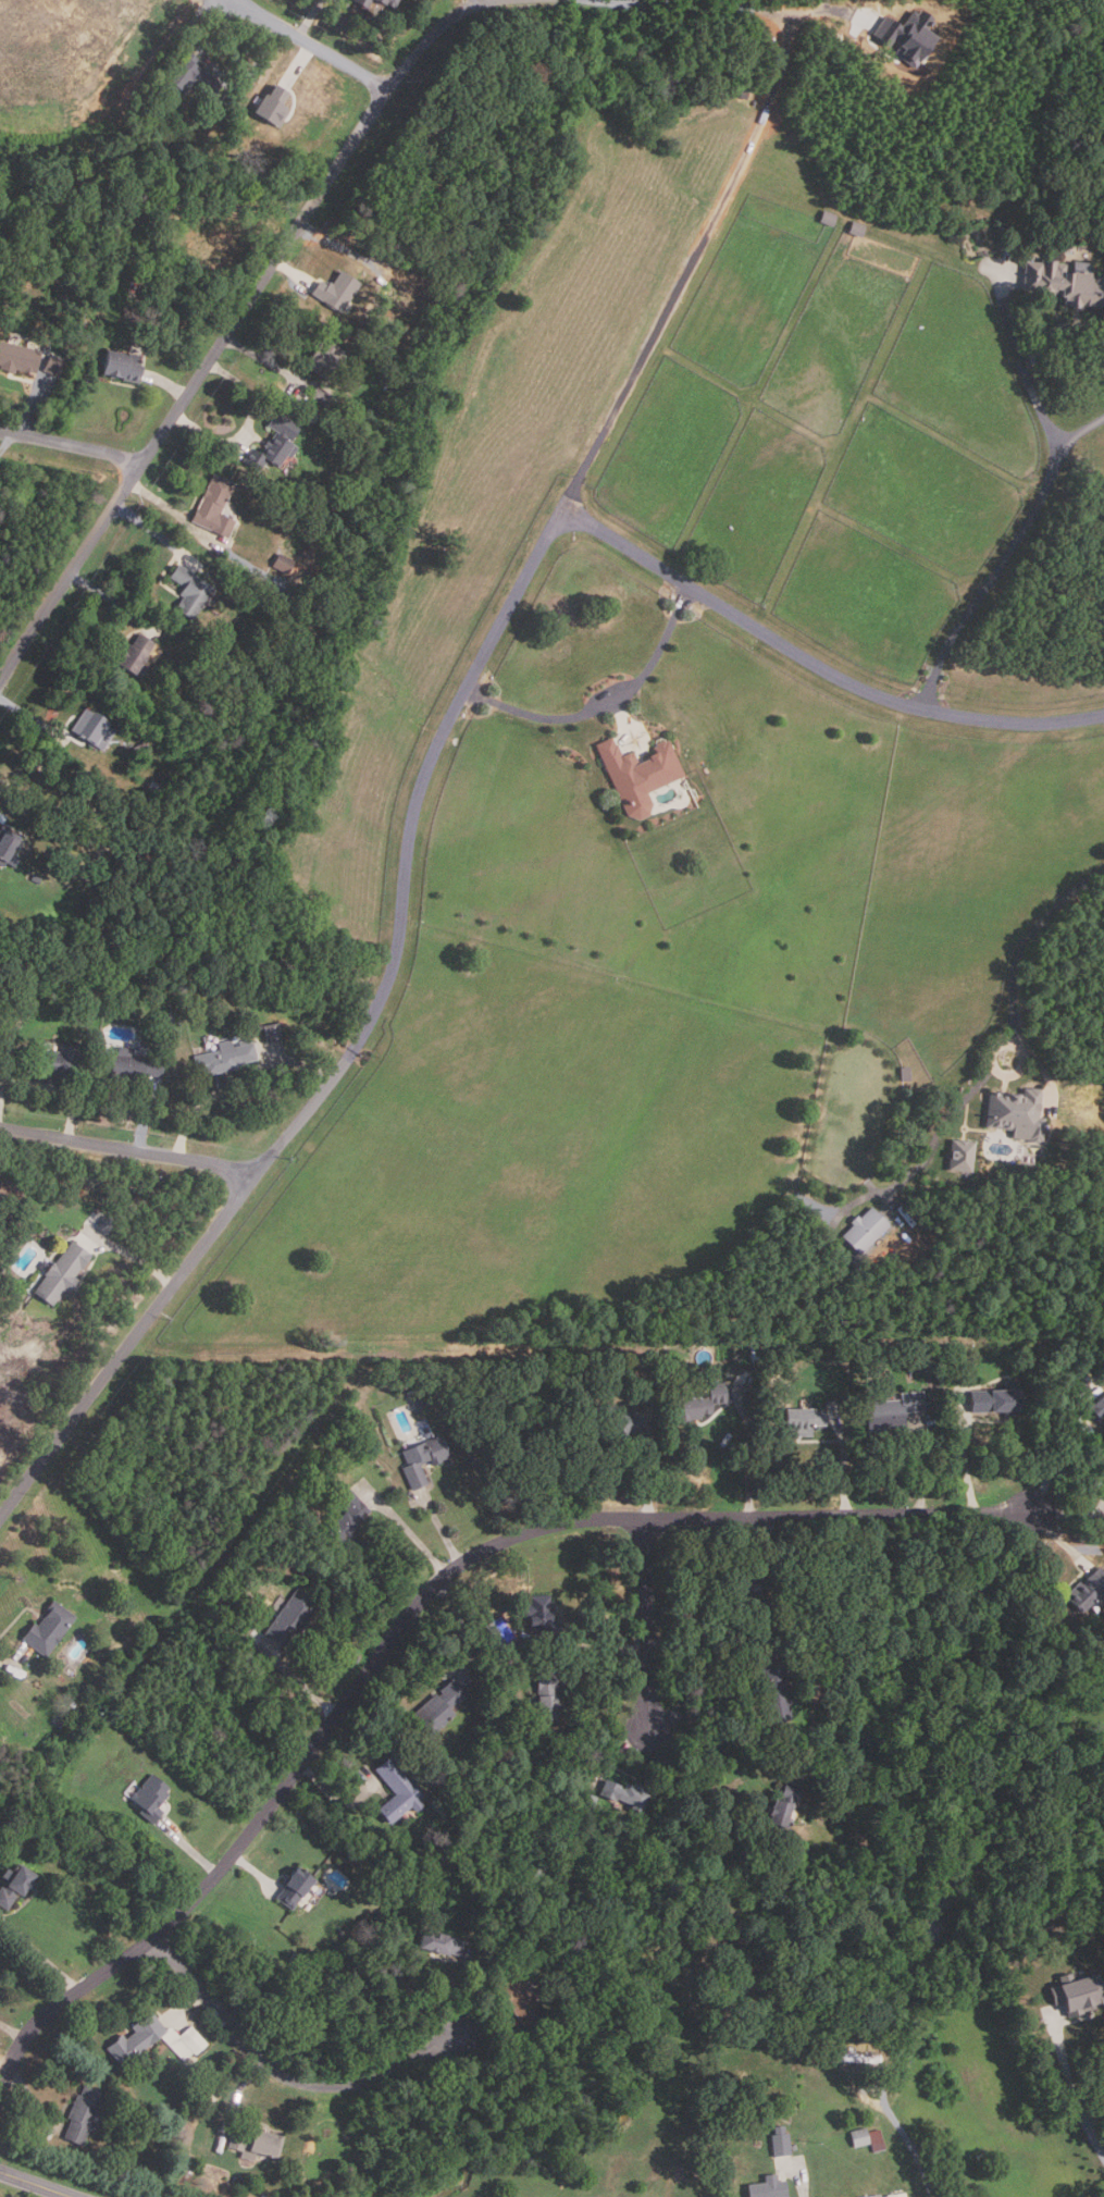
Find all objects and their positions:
building: (360, 3)
building: (386, 3)
road: (476, 4)
road: (312, 17)
road: (191, 37)
building: (911, 38)
road: (314, 46)
road: (299, 62)
building: (186, 75)
building: (273, 104)
building: (826, 217)
building: (855, 227)
road: (692, 266)
road: (294, 272)
building: (1064, 281)
building: (146, 293)
building: (338, 293)
road: (249, 305)
road: (1058, 329)
building: (20, 356)
building: (323, 357)
road: (263, 358)
road: (1022, 363)
building: (55, 365)
building: (120, 365)
building: (388, 380)
road: (170, 382)
building: (320, 395)
road: (35, 410)
road: (248, 423)
building: (281, 424)
road: (1078, 432)
road: (73, 448)
building: (268, 453)
road: (21, 478)
building: (326, 504)
building: (213, 506)
road: (174, 514)
road: (156, 534)
building: (283, 564)
road: (991, 578)
building: (188, 590)
road: (111, 596)
building: (133, 655)
road: (815, 667)
road: (603, 701)
road: (28, 715)
building: (90, 728)
building: (139, 750)
building: (636, 772)
building: (153, 787)
building: (138, 799)
building: (7, 849)
building: (63, 856)
building: (35, 878)
building: (61, 991)
building: (83, 991)
building: (169, 1022)
building: (274, 1032)
road: (361, 1033)
road: (992, 1052)
building: (223, 1057)
building: (51, 1060)
building: (127, 1065)
road: (50, 1086)
road: (196, 1112)
building: (1016, 1113)
road: (147, 1114)
road: (132, 1144)
building: (960, 1156)
building: (104, 1224)
building: (864, 1230)
road: (132, 1252)
building: (60, 1272)
building: (1072, 1384)
building: (414, 1398)
building: (991, 1398)
building: (698, 1403)
building: (1095, 1408)
building: (890, 1411)
building: (799, 1420)
building: (615, 1422)
building: (422, 1459)
road: (1053, 1462)
building: (346, 1516)
road: (411, 1535)
building: (749, 1583)
building: (1086, 1590)
road: (413, 1613)
building: (541, 1615)
building: (289, 1617)
road: (649, 1624)
building: (46, 1628)
building: (776, 1691)
building: (546, 1696)
building: (438, 1706)
road: (717, 1726)
building: (396, 1790)
building: (622, 1794)
building: (149, 1798)
building: (583, 1802)
building: (782, 1805)
building: (401, 1853)
building: (13, 1884)
building: (290, 1888)
building: (437, 1943)
road: (38, 1953)
building: (291, 1958)
building: (1075, 1991)
building: (521, 2000)
building: (133, 2039)
building: (182, 2042)
building: (855, 2057)
road: (280, 2073)
road: (1074, 2094)
building: (80, 2114)
building: (858, 2136)
building: (876, 2139)
building: (779, 2140)
building: (255, 2143)
road: (910, 2143)
building: (794, 2147)
building: (984, 2159)
road: (35, 2184)
building: (767, 2187)
building: (895, 2194)
building: (870, 2196)
building: (883, 2196)

